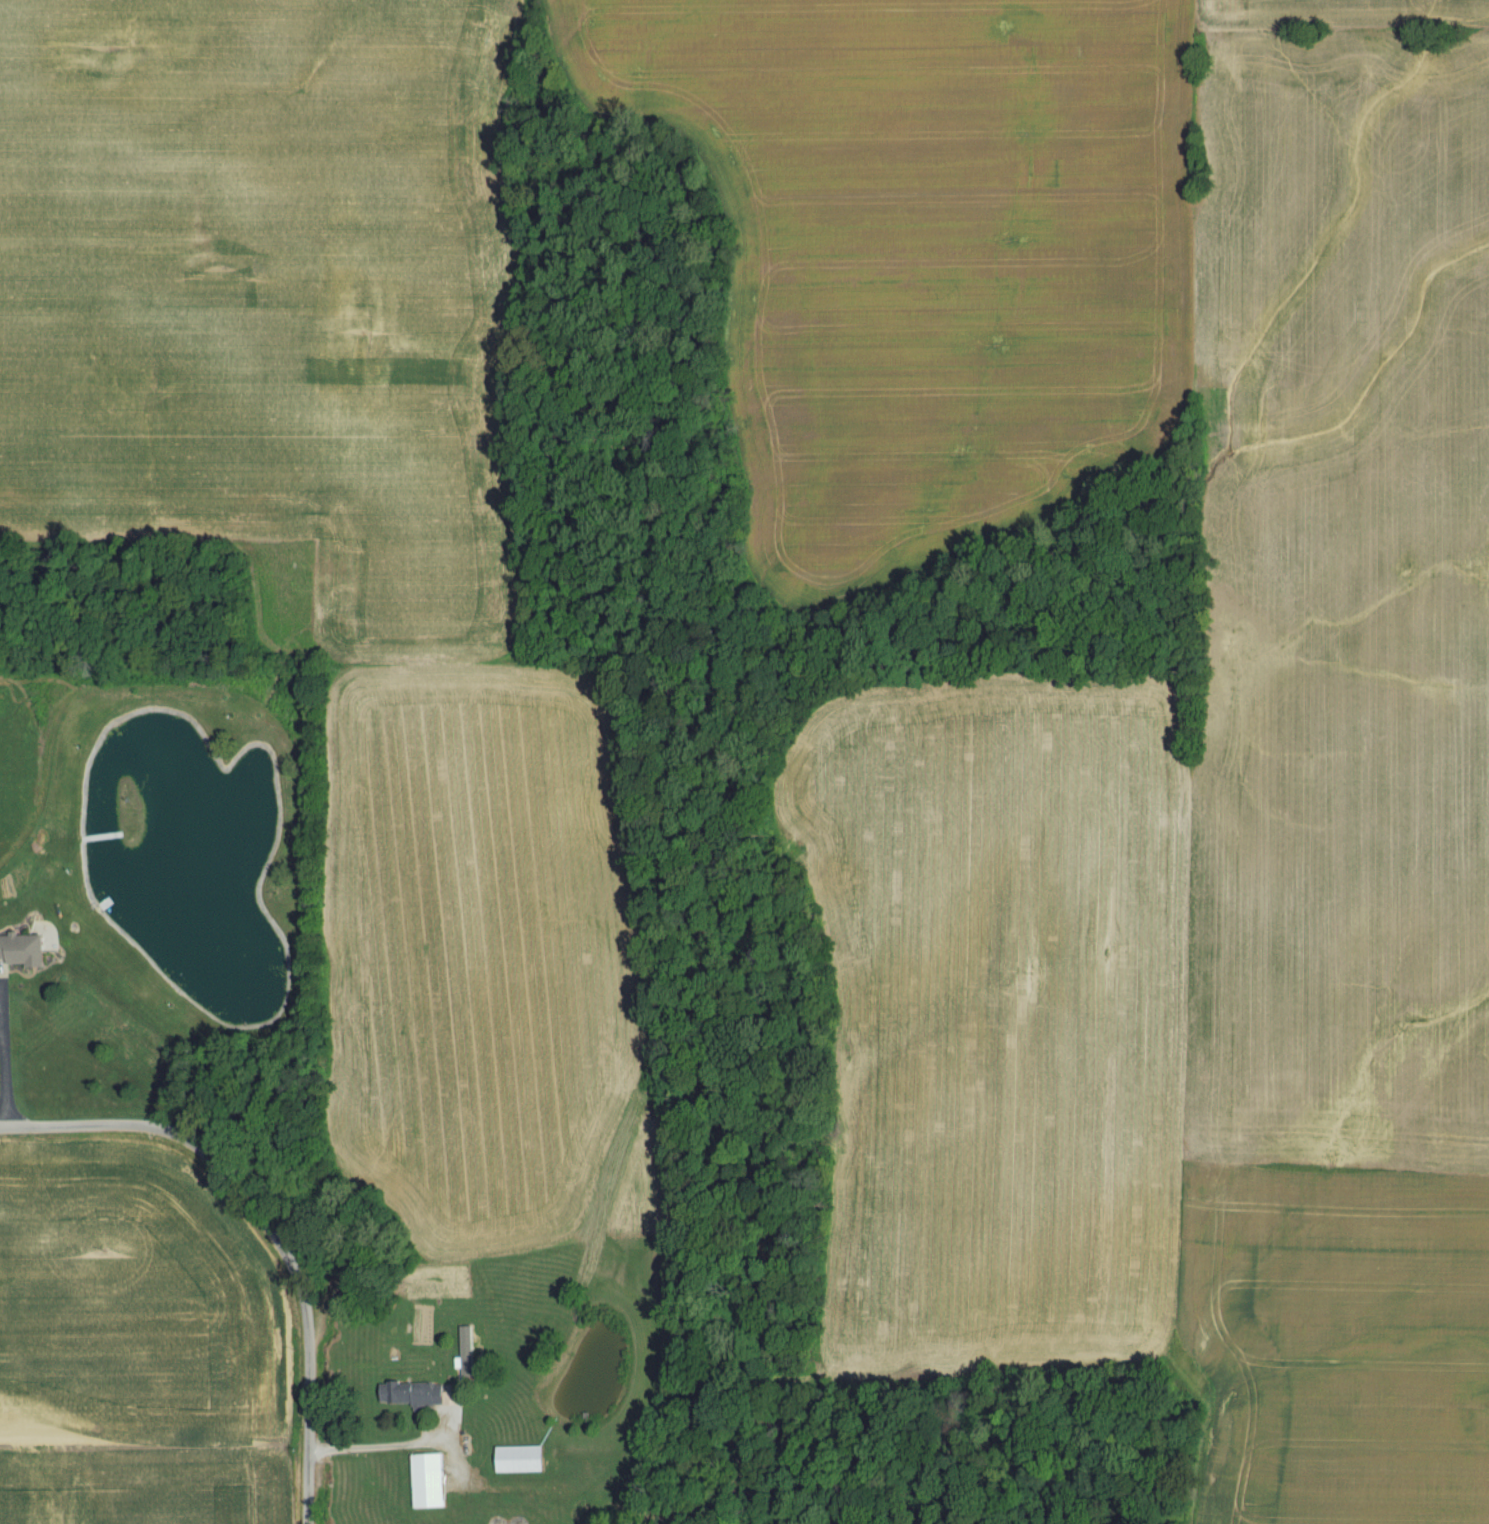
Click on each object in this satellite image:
building: (25, 951)
road: (0, 1067)
road: (175, 1137)
building: (473, 1356)
building: (415, 1395)
road: (304, 1397)
road: (382, 1448)
building: (522, 1460)
building: (430, 1482)

